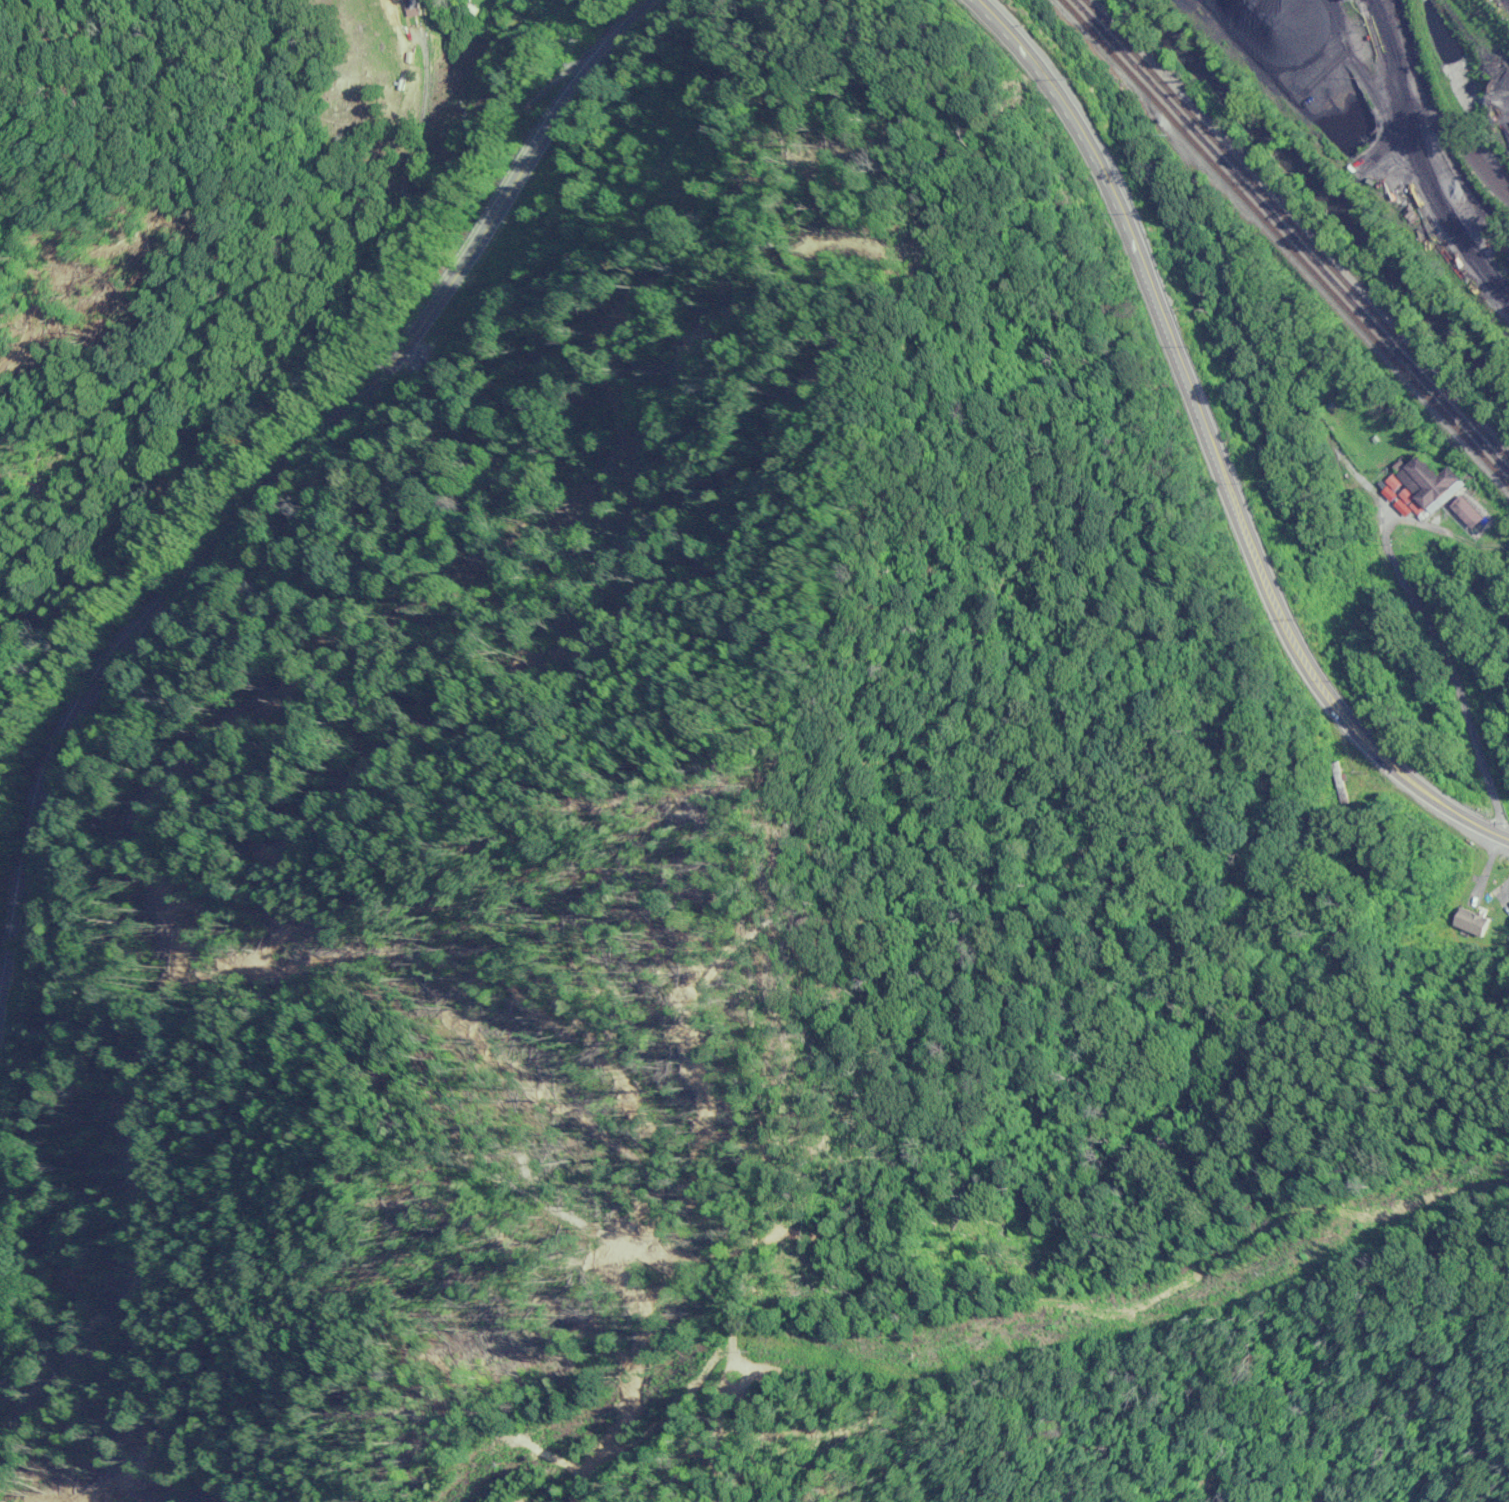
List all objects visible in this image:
railway: (1435, 101)
quarry: (1402, 107)
river: (1322, 198)
railway: (1297, 229)
railway: (1291, 235)
railway: (1286, 242)
road: (1210, 446)
building: (1423, 485)
road: (274, 497)
building: (1466, 514)
road: (1489, 670)

